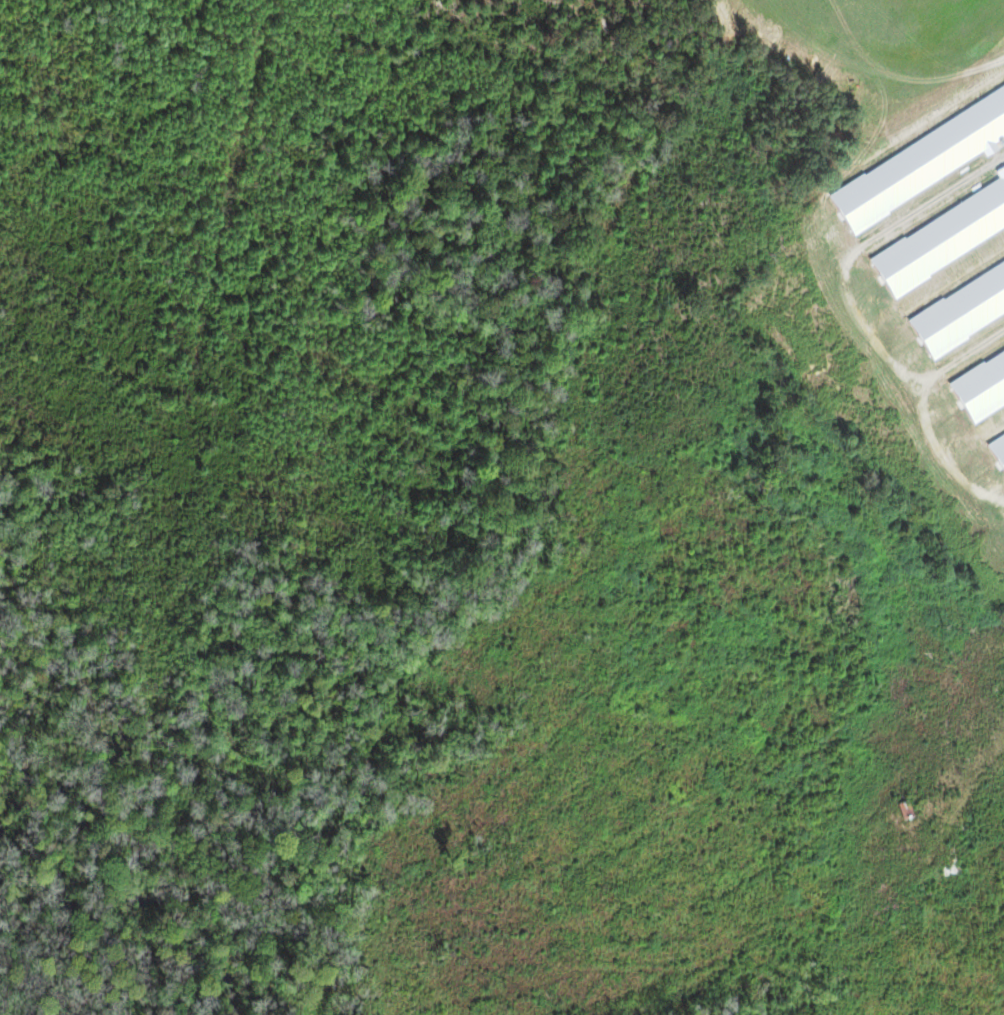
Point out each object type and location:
building: (901, 208)
building: (956, 413)
building: (985, 517)

